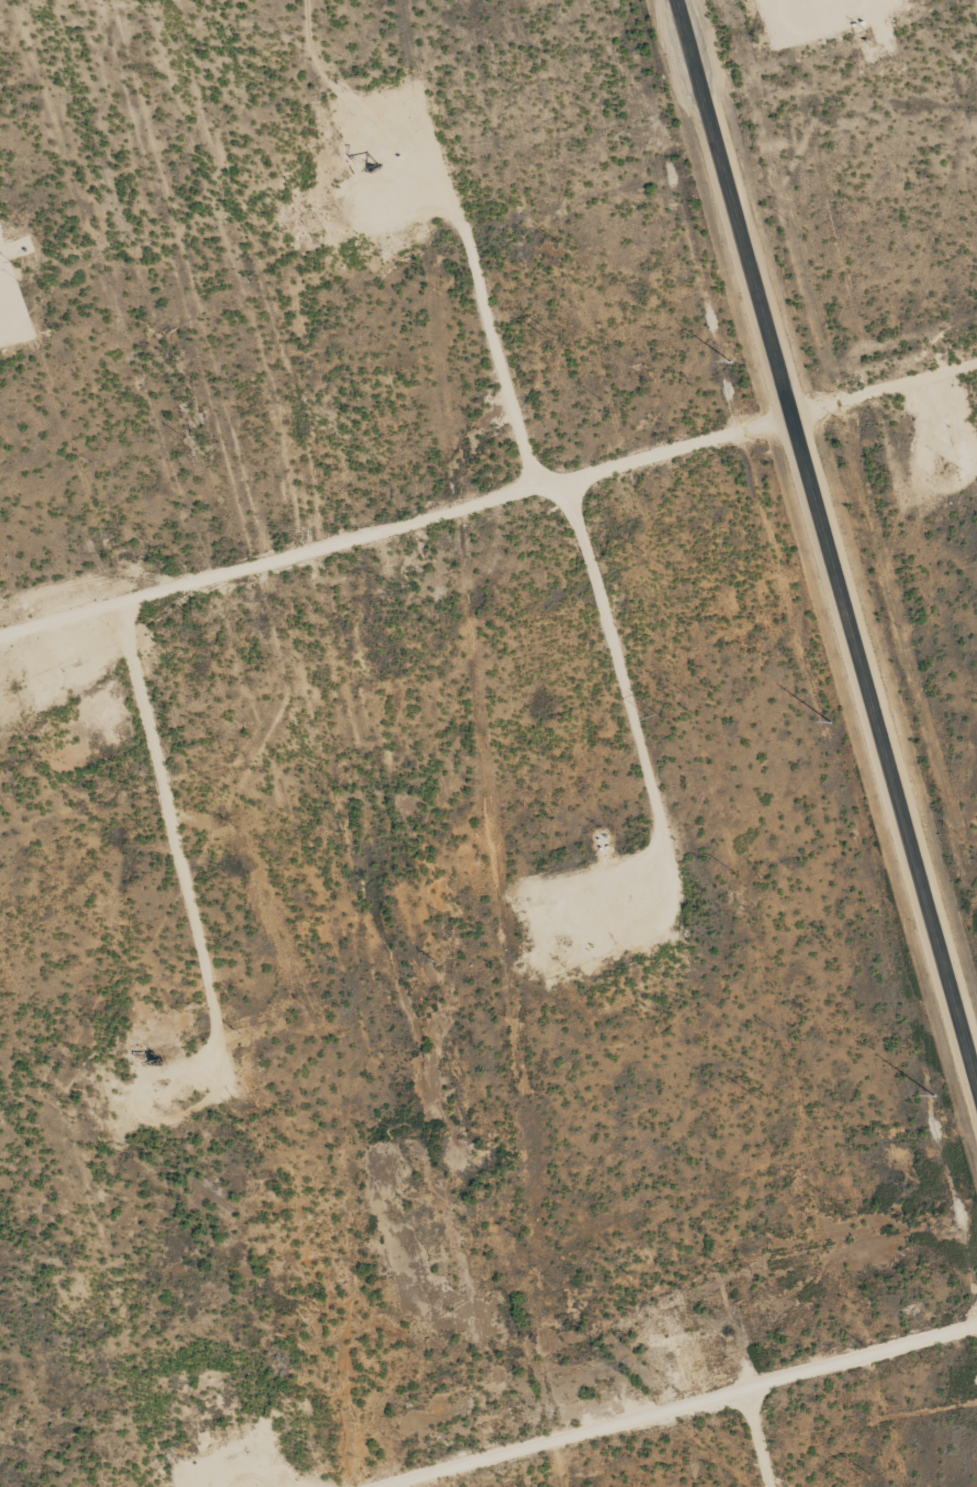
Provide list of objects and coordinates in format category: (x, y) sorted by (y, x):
power tower: (551, 335)
road: (489, 507)
road: (826, 541)
power tower: (656, 716)
power tower: (761, 1094)
road: (670, 1401)
road: (756, 1434)
power tower: (867, 1475)

